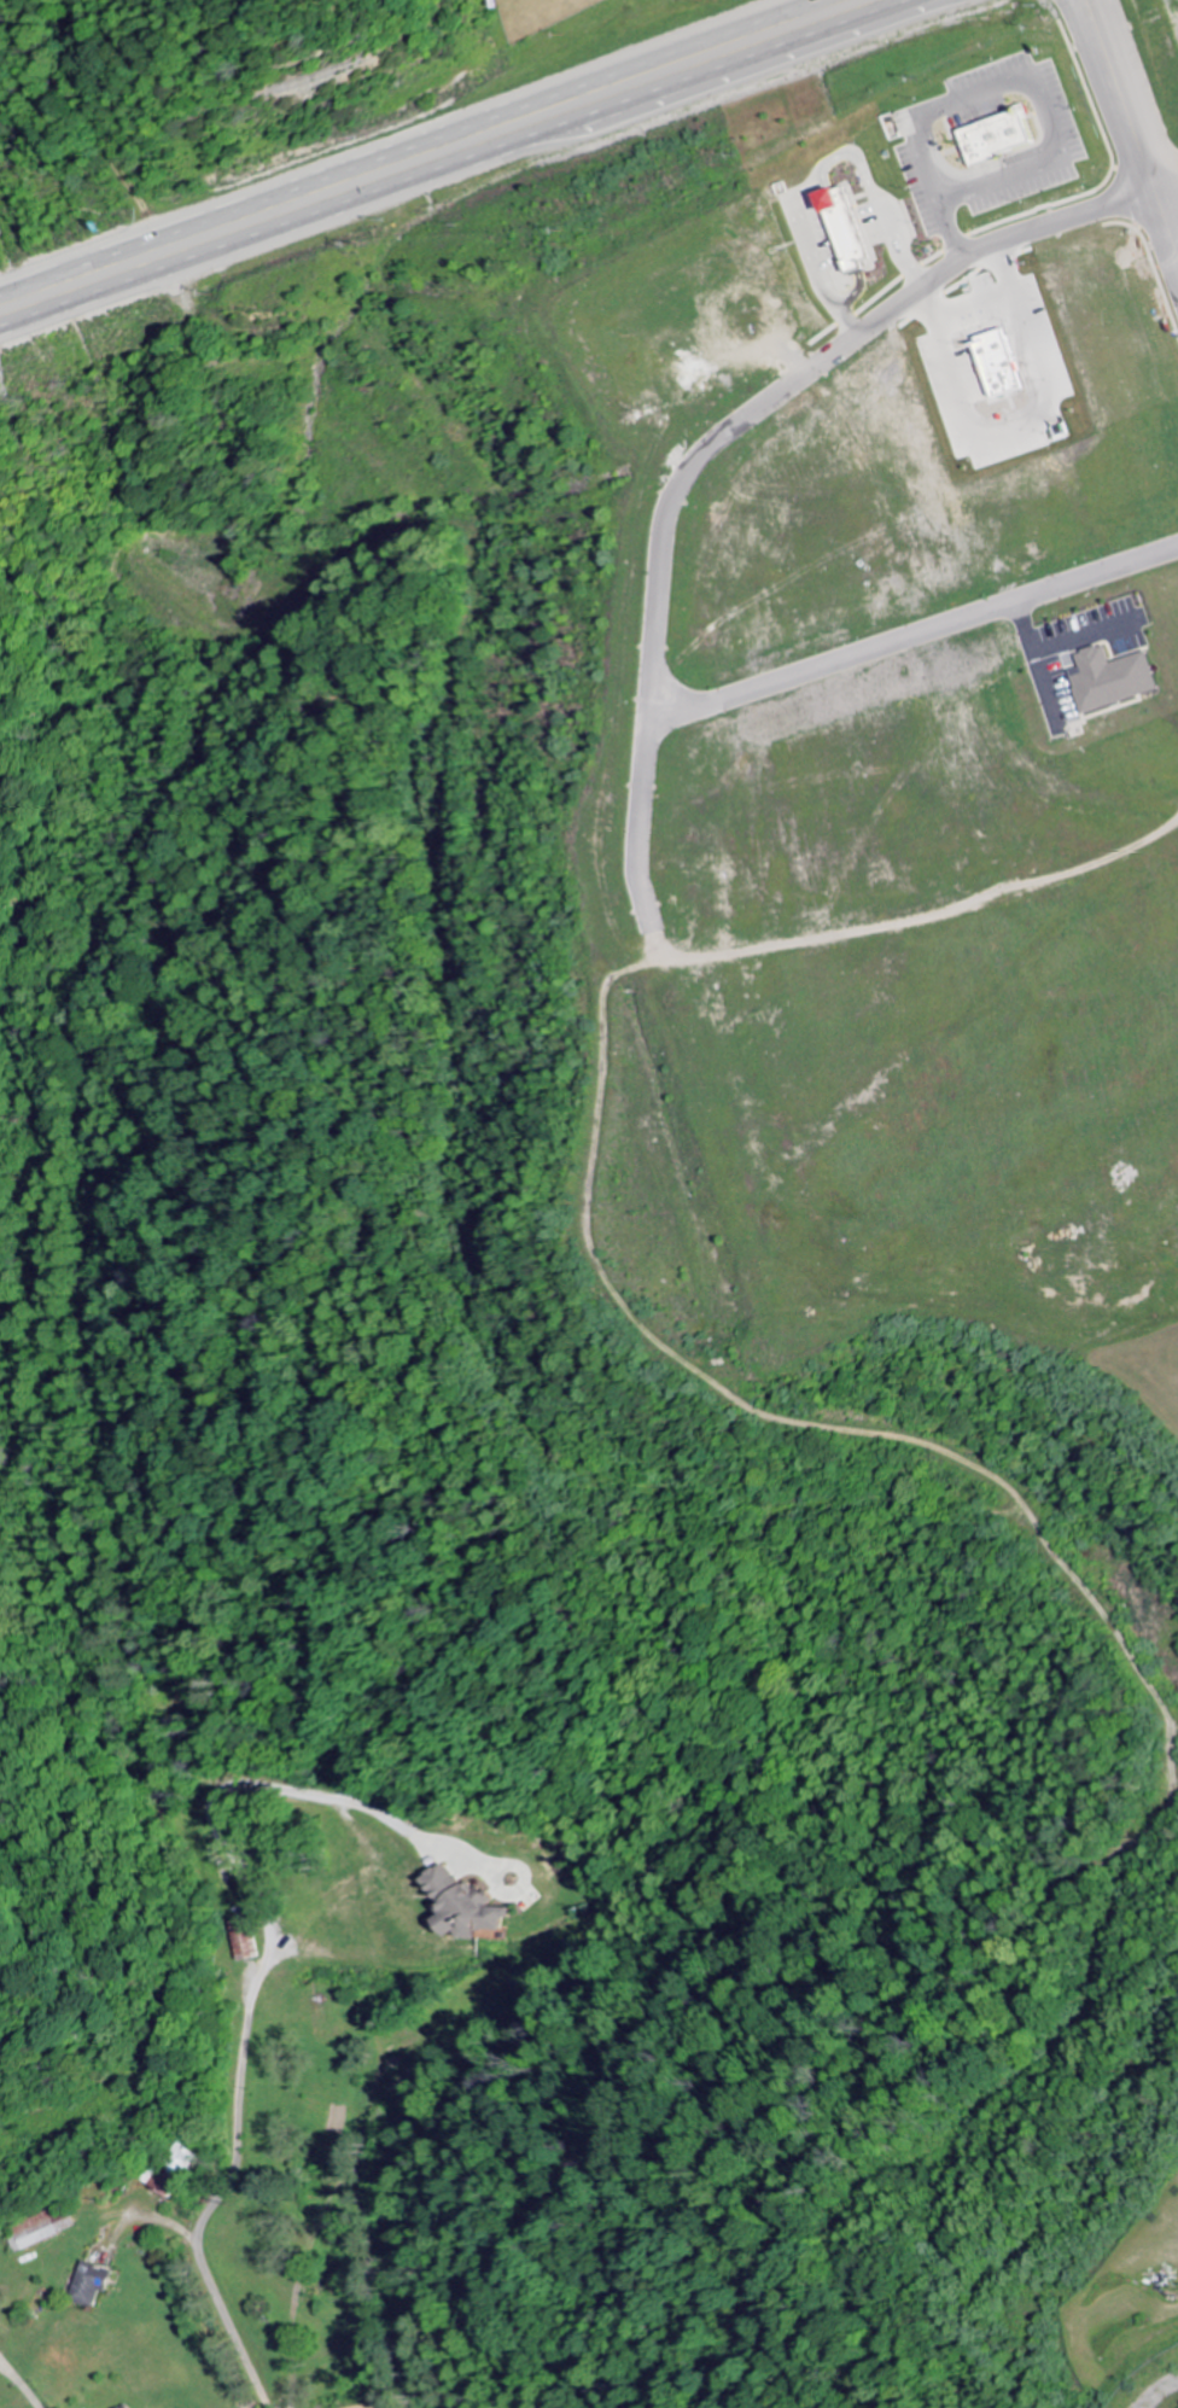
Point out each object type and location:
road: (1138, 112)
building: (1008, 139)
road: (402, 144)
road: (460, 165)
building: (855, 229)
building: (1009, 365)
building: (1116, 681)
building: (473, 1906)
road: (218, 2196)
road: (320, 2223)
building: (98, 2285)
building: (132, 2406)

